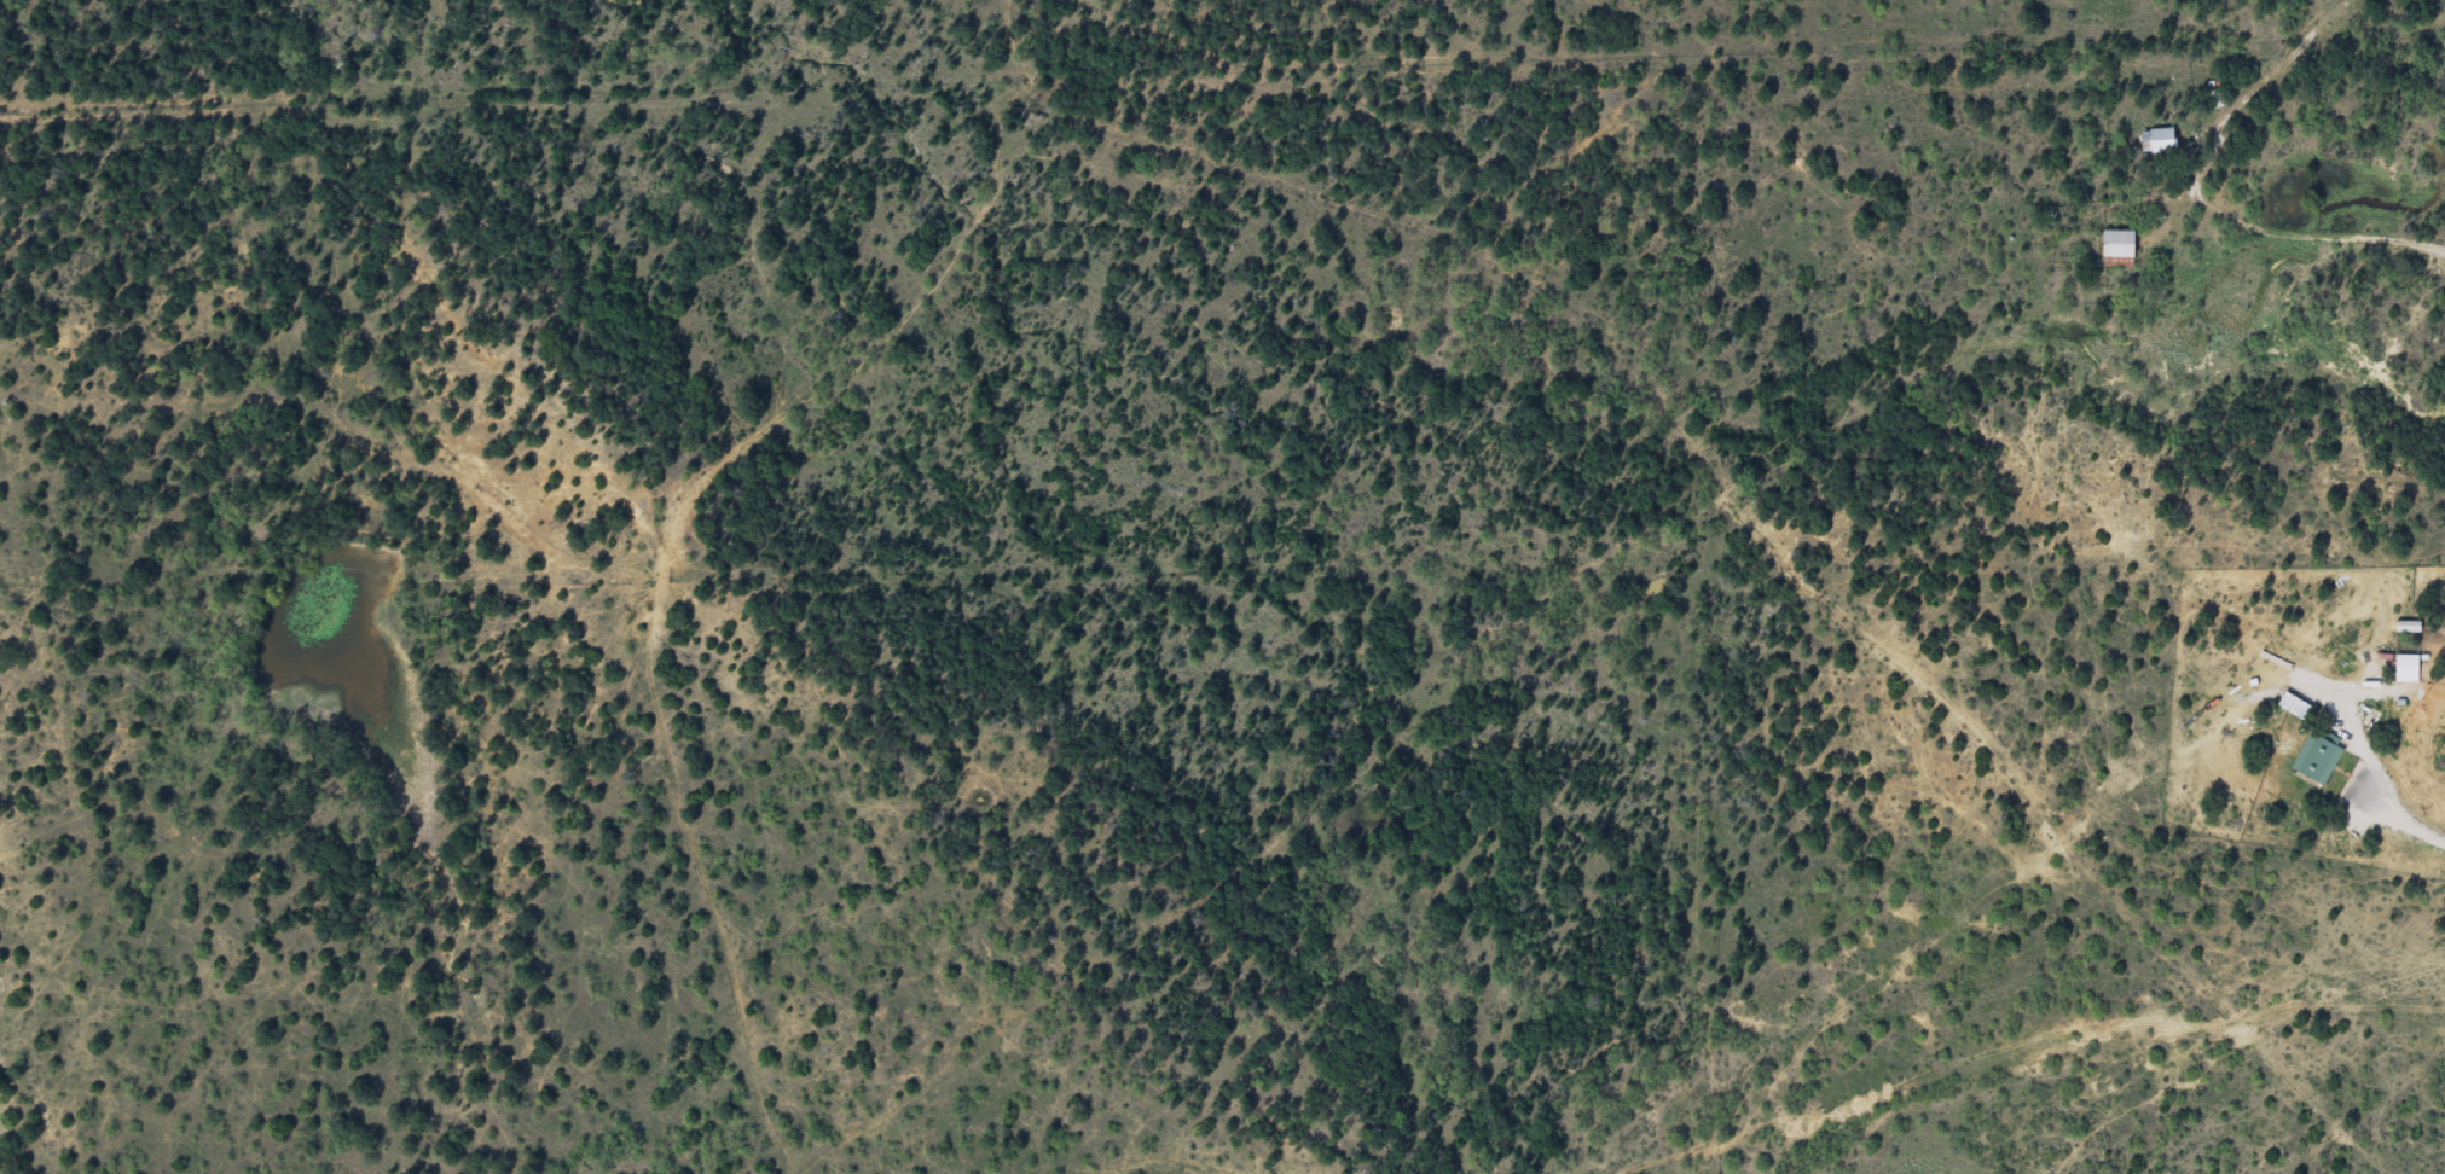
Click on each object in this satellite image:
building: (2160, 141)
building: (2120, 244)
road: (655, 562)
road: (1850, 1109)

